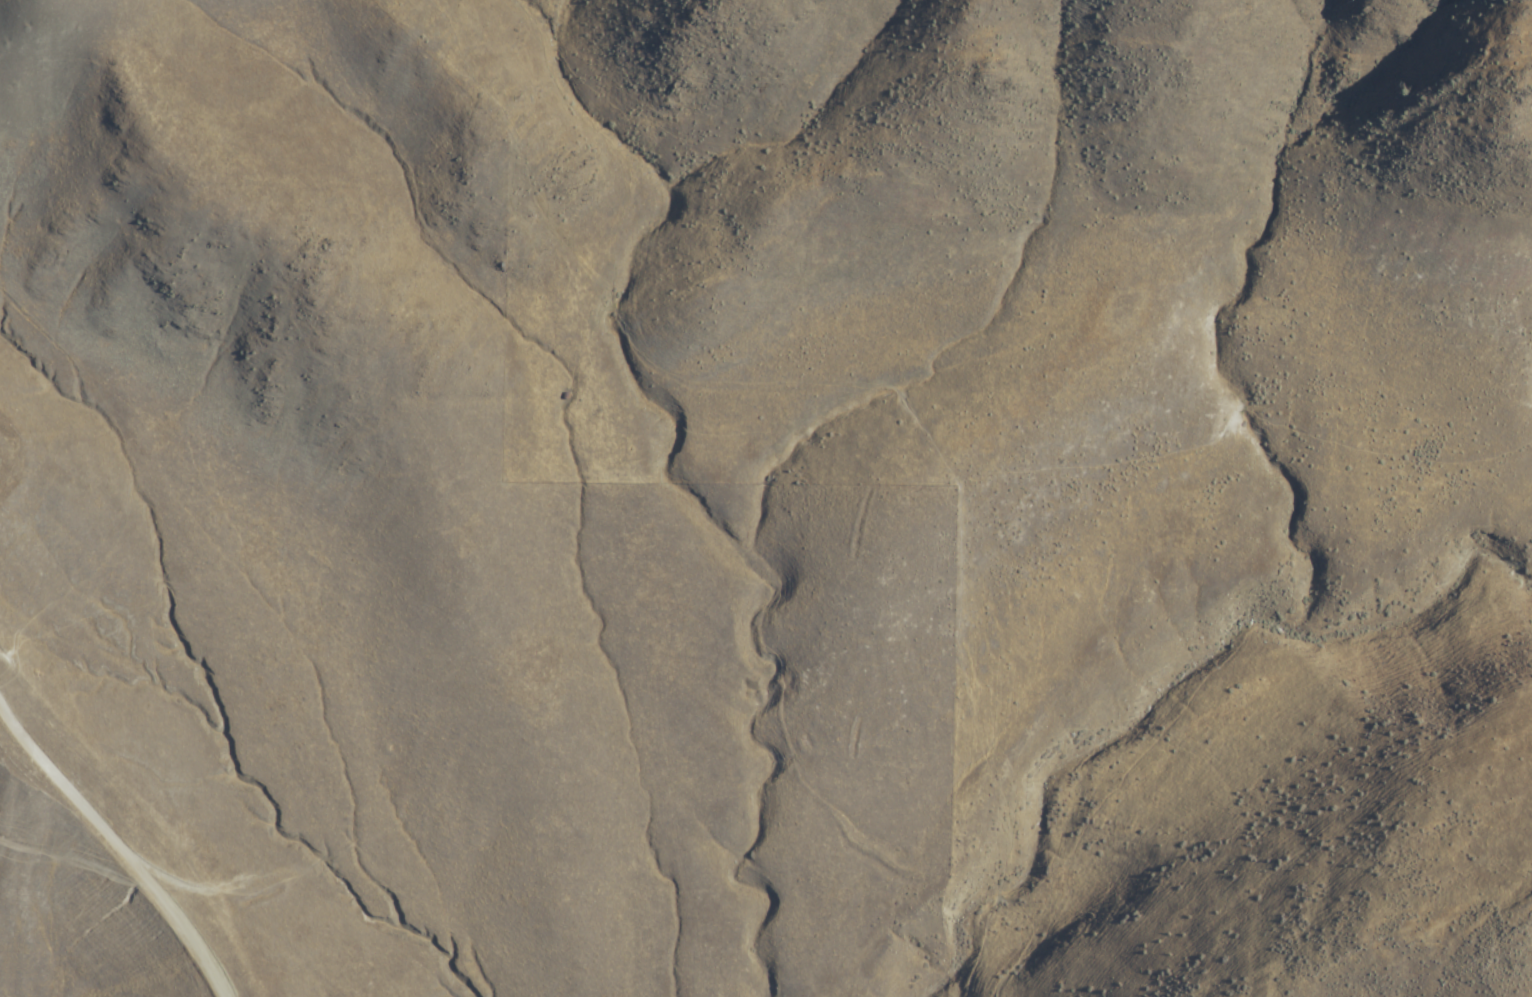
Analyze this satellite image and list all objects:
road: (436, 567)
road: (78, 811)
road: (134, 899)

